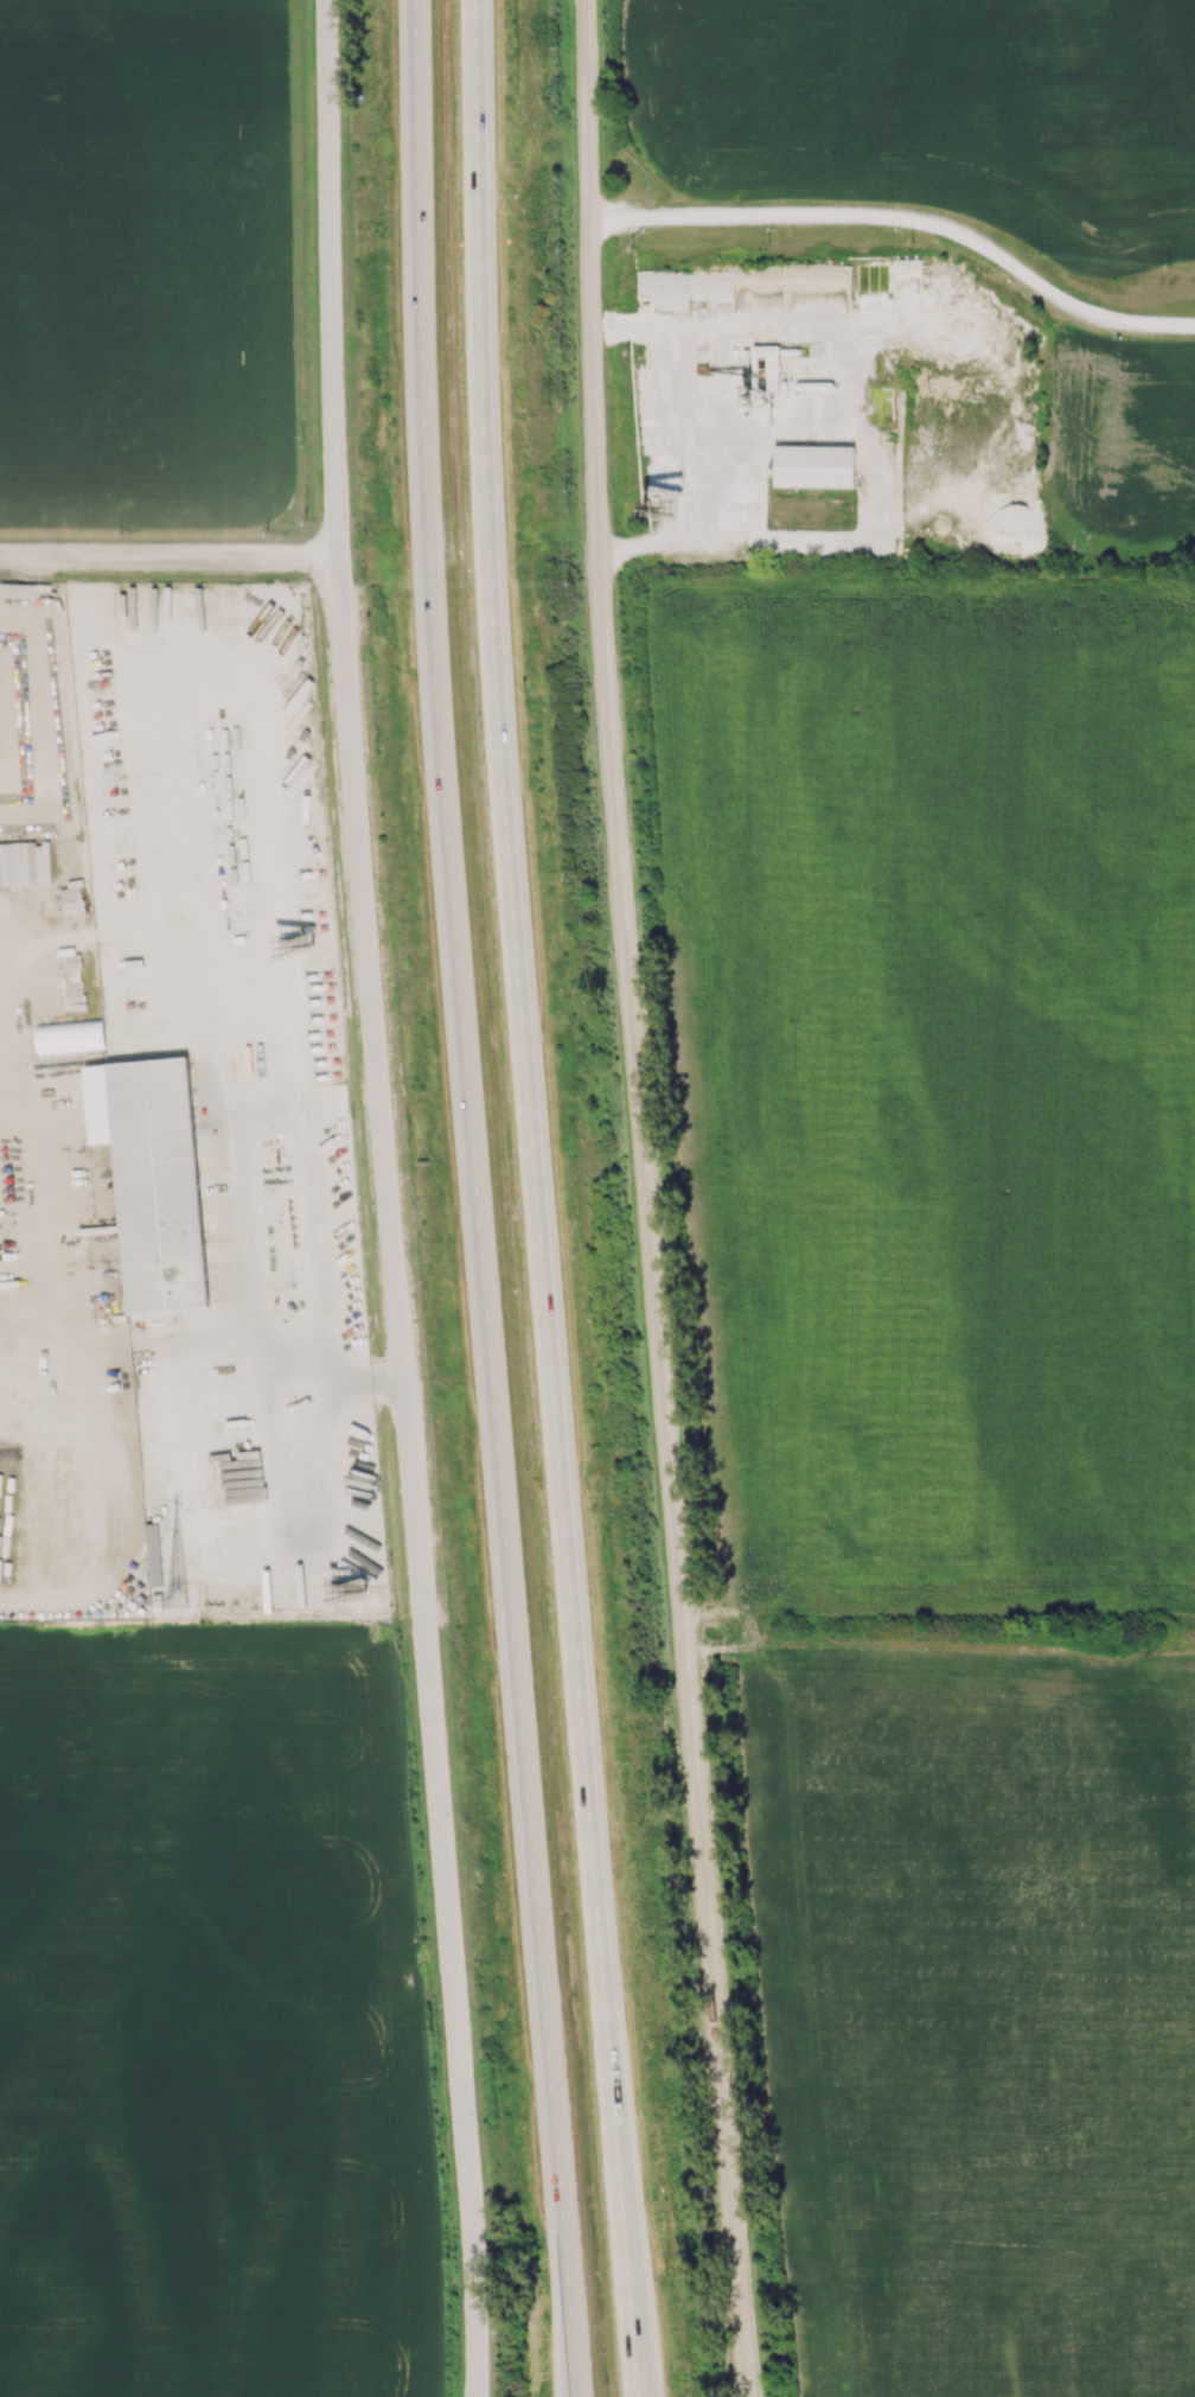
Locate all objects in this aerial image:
road: (906, 217)
road: (592, 261)
road: (420, 274)
road: (483, 274)
road: (330, 279)
building: (813, 467)
road: (669, 525)
road: (656, 542)
road: (459, 548)
road: (168, 559)
road: (13, 606)
road: (191, 639)
road: (28, 672)
road: (23, 1217)
road: (117, 1340)
road: (290, 1356)
road: (366, 1372)
road: (666, 1459)
road: (555, 1472)
road: (492, 1473)
road: (407, 1477)
road: (92, 1498)
road: (564, 2371)
road: (635, 2378)

